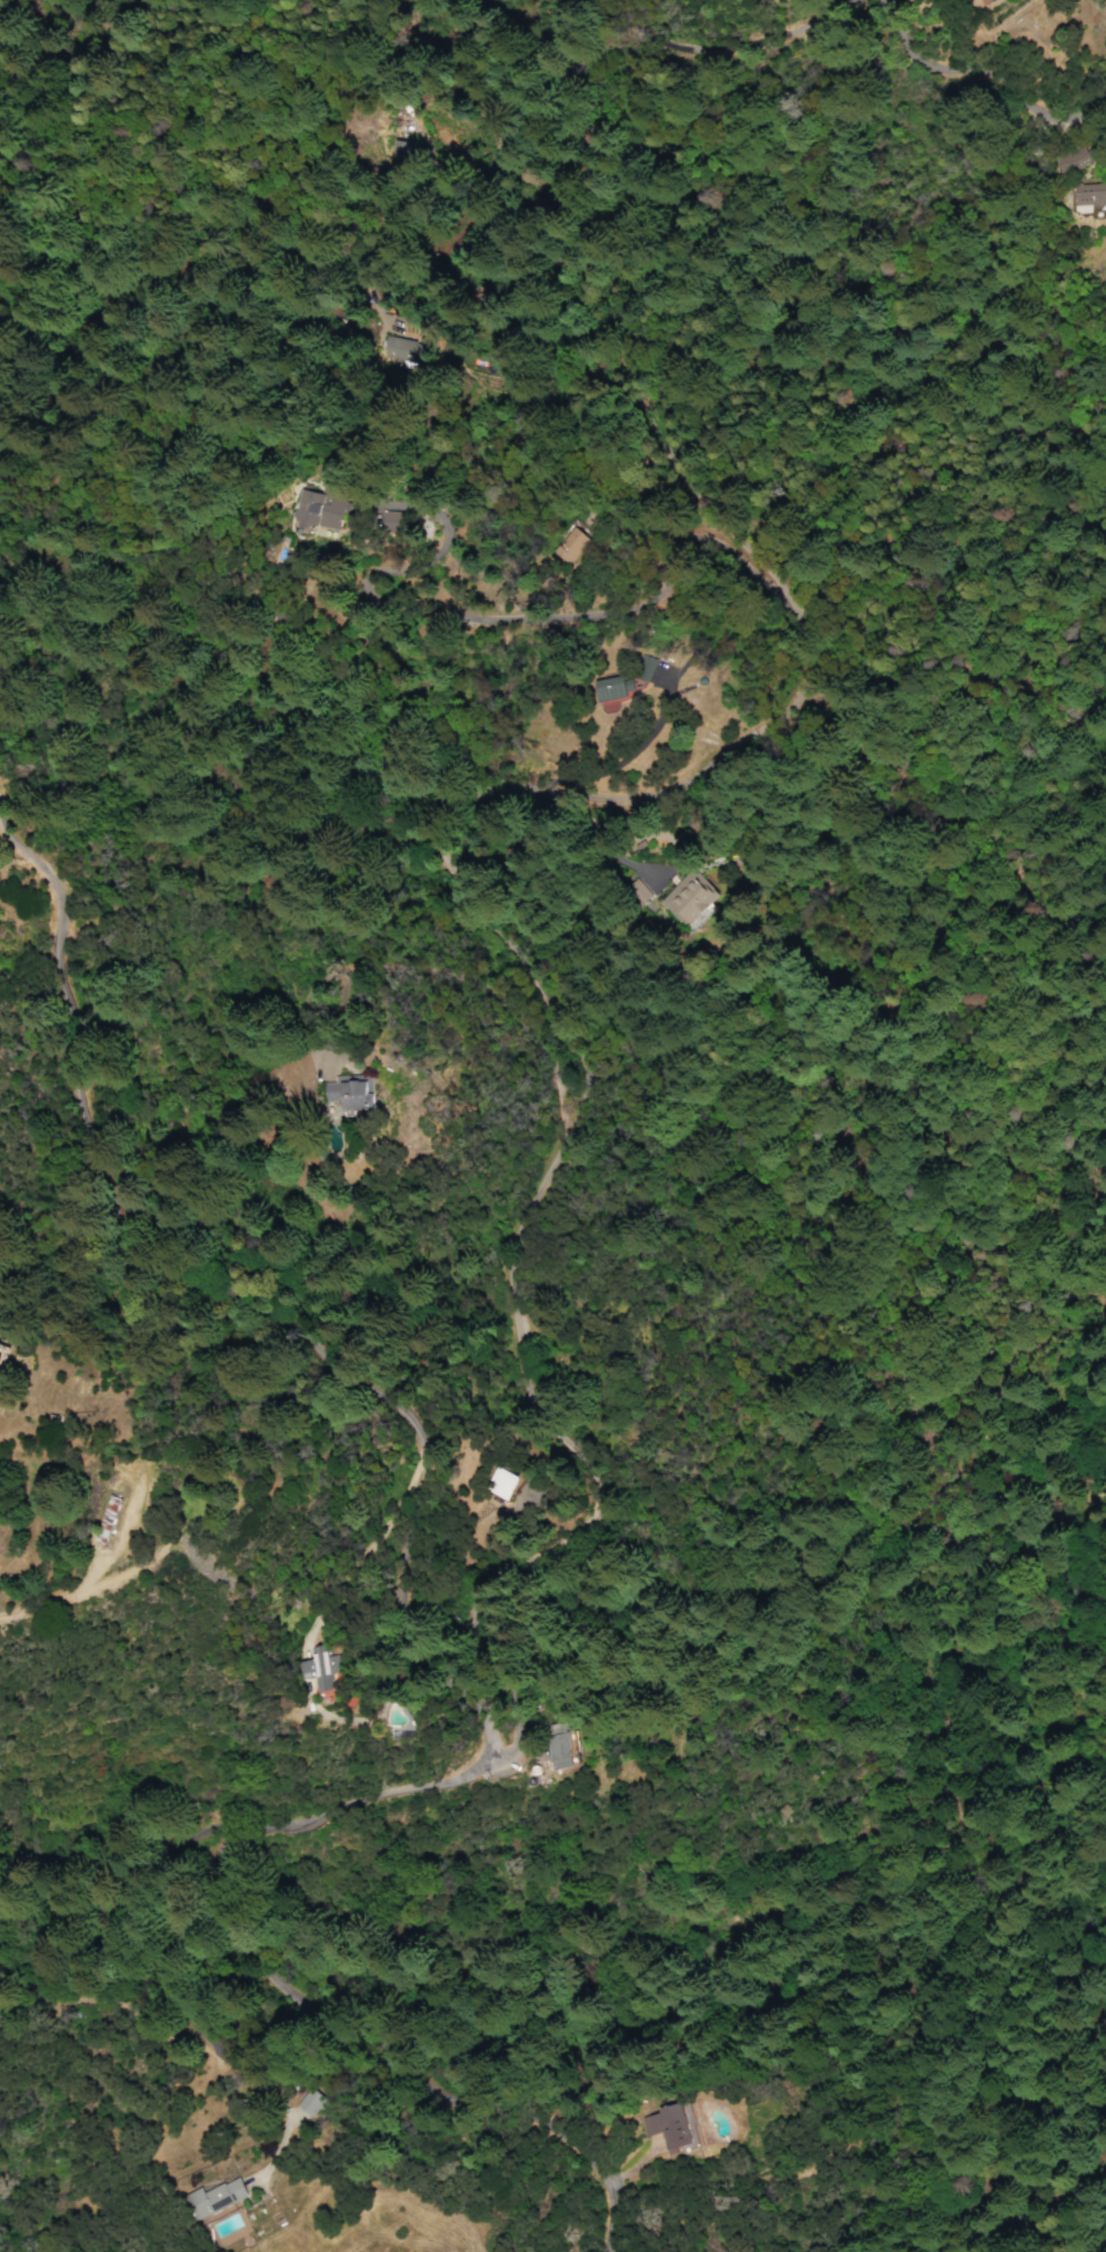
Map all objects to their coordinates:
building: (1003, 0)
road: (838, 2)
road: (718, 49)
road: (980, 68)
building: (1086, 205)
road: (397, 332)
building: (309, 509)
building: (566, 545)
building: (612, 687)
road: (466, 781)
road: (806, 786)
building: (678, 899)
building: (349, 1093)
road: (363, 1235)
crop: (1058, 1278)
building: (499, 1482)
road: (46, 1580)
building: (318, 1665)
road: (1096, 1681)
building: (557, 1747)
road: (773, 1942)
road: (249, 1967)
building: (672, 2128)
building: (216, 2196)

